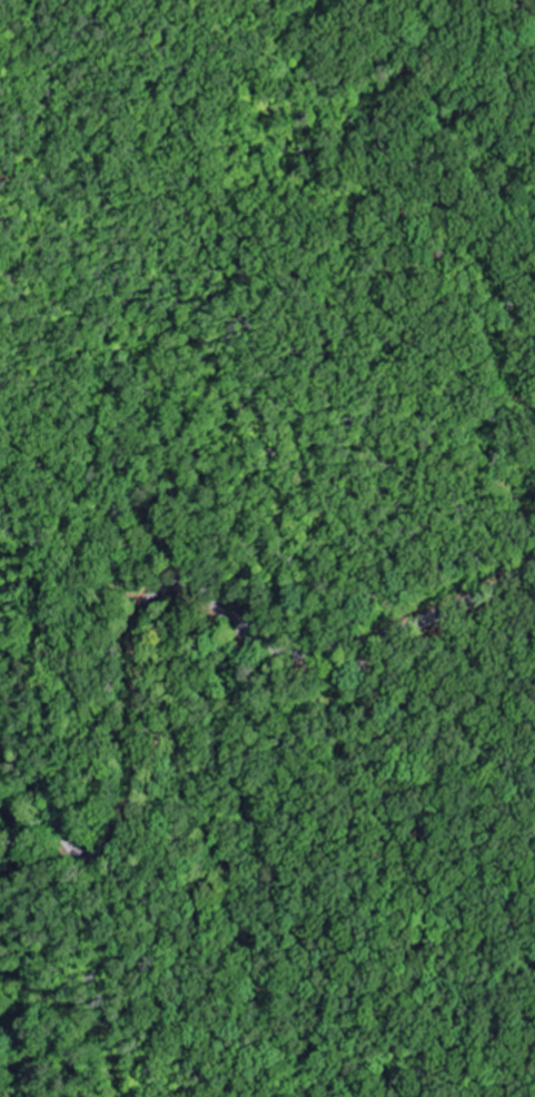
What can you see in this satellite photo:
road: (155, 603)

